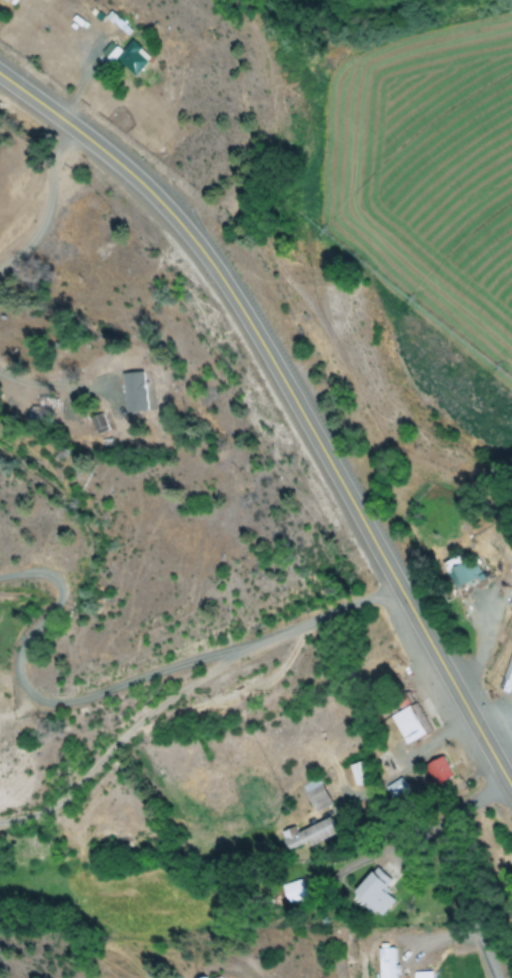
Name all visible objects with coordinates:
building: (8, 0)
building: (1, 1)
building: (121, 61)
road: (69, 121)
building: (127, 393)
building: (93, 423)
road: (335, 469)
building: (461, 570)
building: (510, 603)
building: (509, 670)
road: (129, 678)
building: (409, 722)
road: (124, 733)
building: (436, 773)
building: (358, 774)
building: (399, 788)
building: (313, 796)
building: (306, 835)
road: (458, 867)
building: (293, 890)
building: (373, 892)
building: (386, 962)
building: (421, 974)
building: (211, 977)
building: (220, 977)

